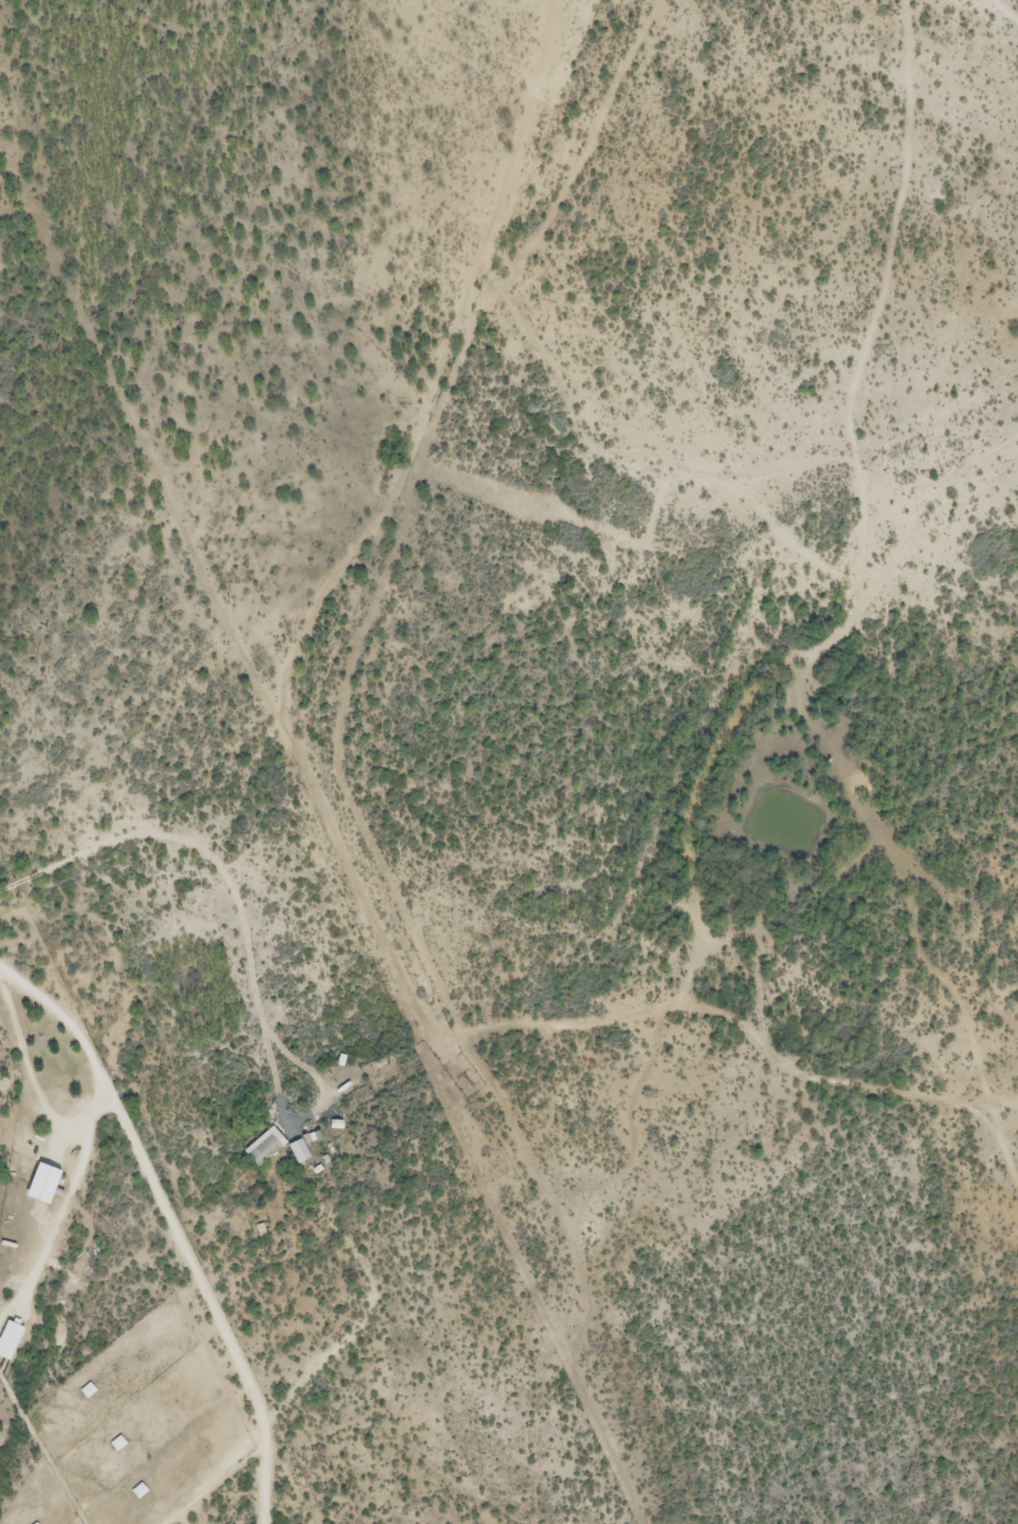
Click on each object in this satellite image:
road: (199, 854)
road: (181, 920)
road: (990, 1099)
building: (263, 1149)
building: (297, 1153)
building: (40, 1185)
building: (138, 1492)

